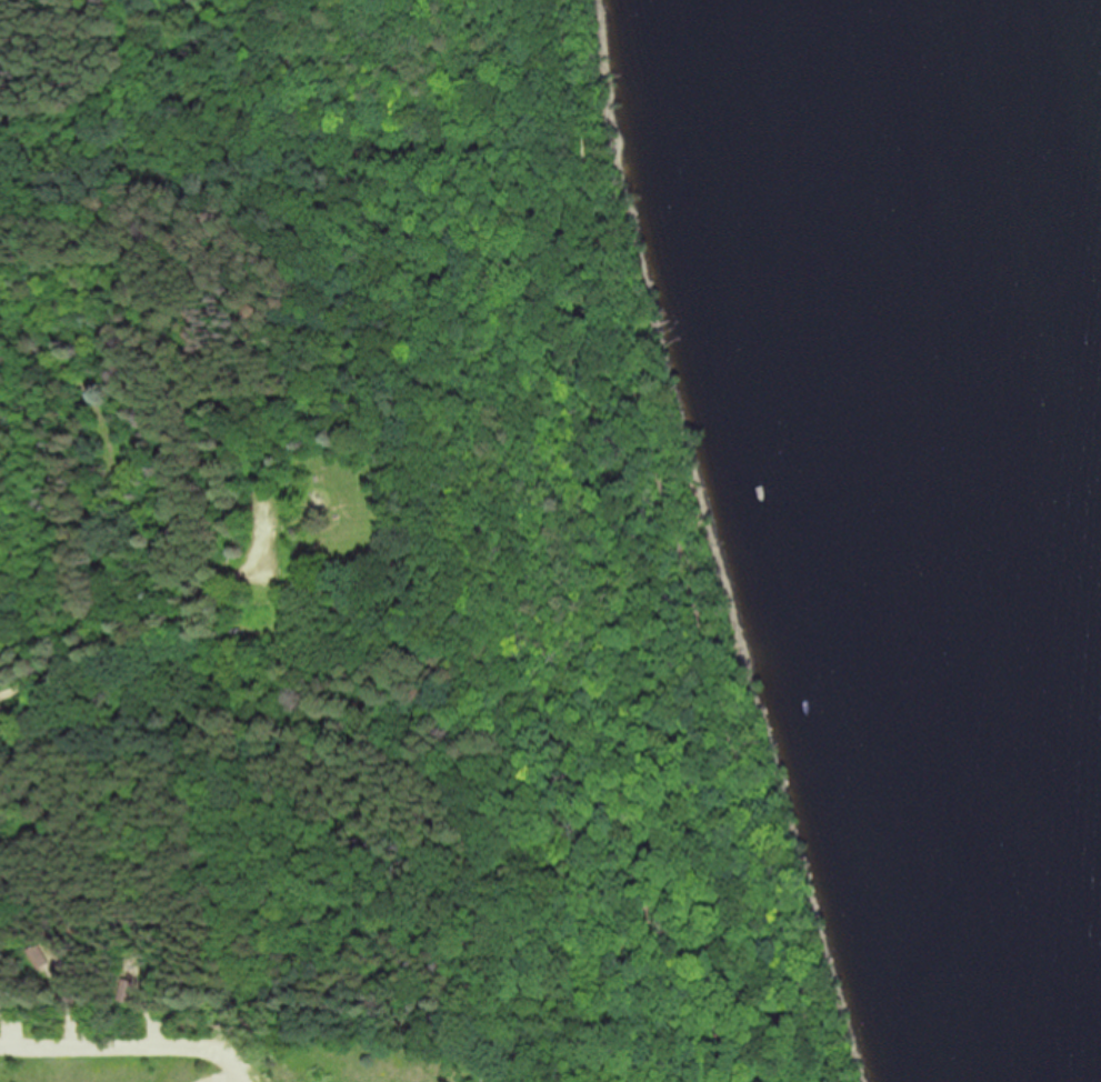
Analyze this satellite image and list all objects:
road: (78, 42)
road: (94, 404)
parking lot: (276, 520)
road: (681, 544)
park: (369, 575)
road: (71, 615)
road: (160, 647)
building: (38, 956)
building: (126, 992)
parking lot: (10, 1030)
parking lot: (156, 1030)
parking lot: (73, 1032)
road: (126, 1048)
road: (229, 1081)

